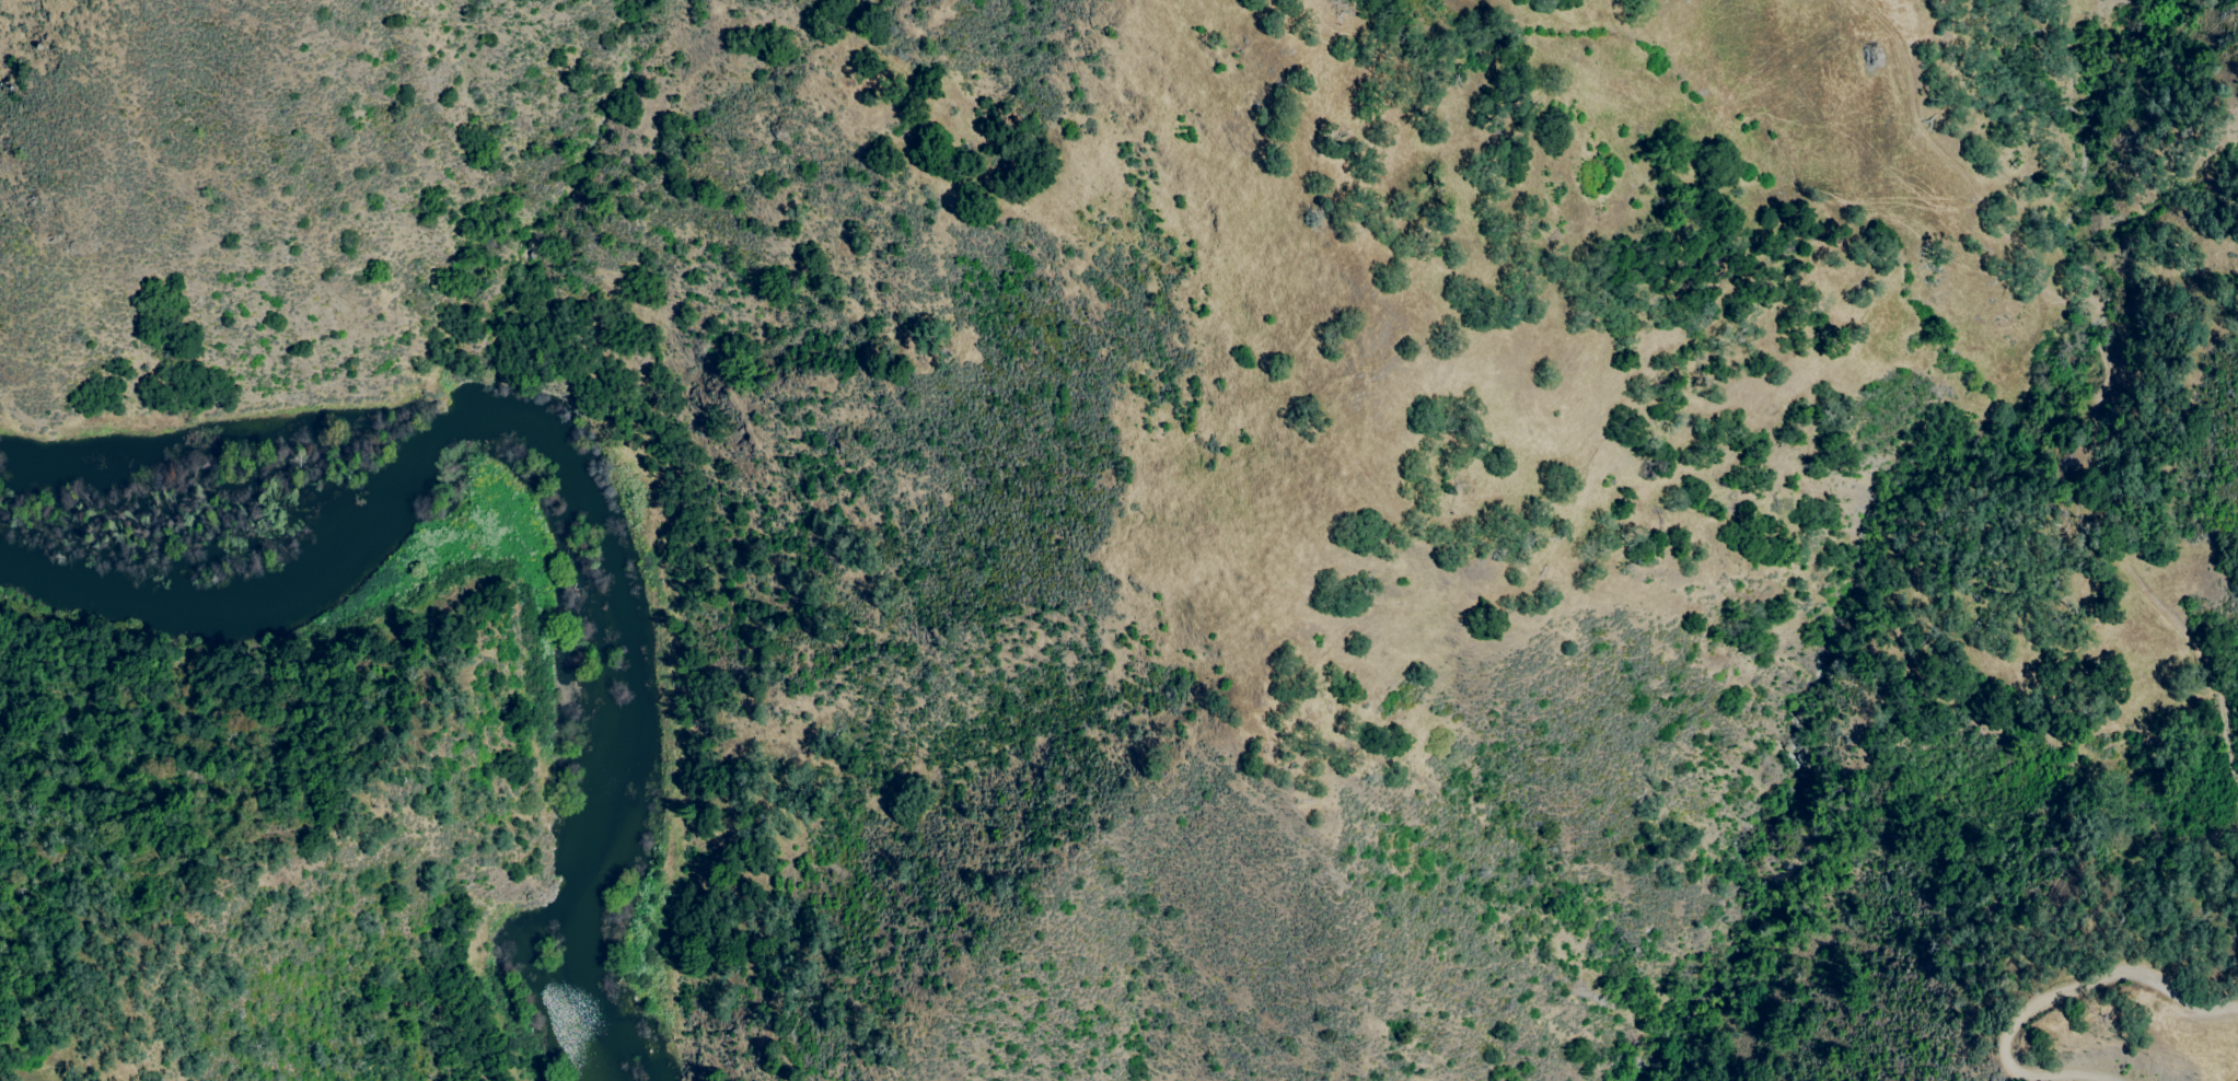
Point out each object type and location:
road: (2048, 997)

